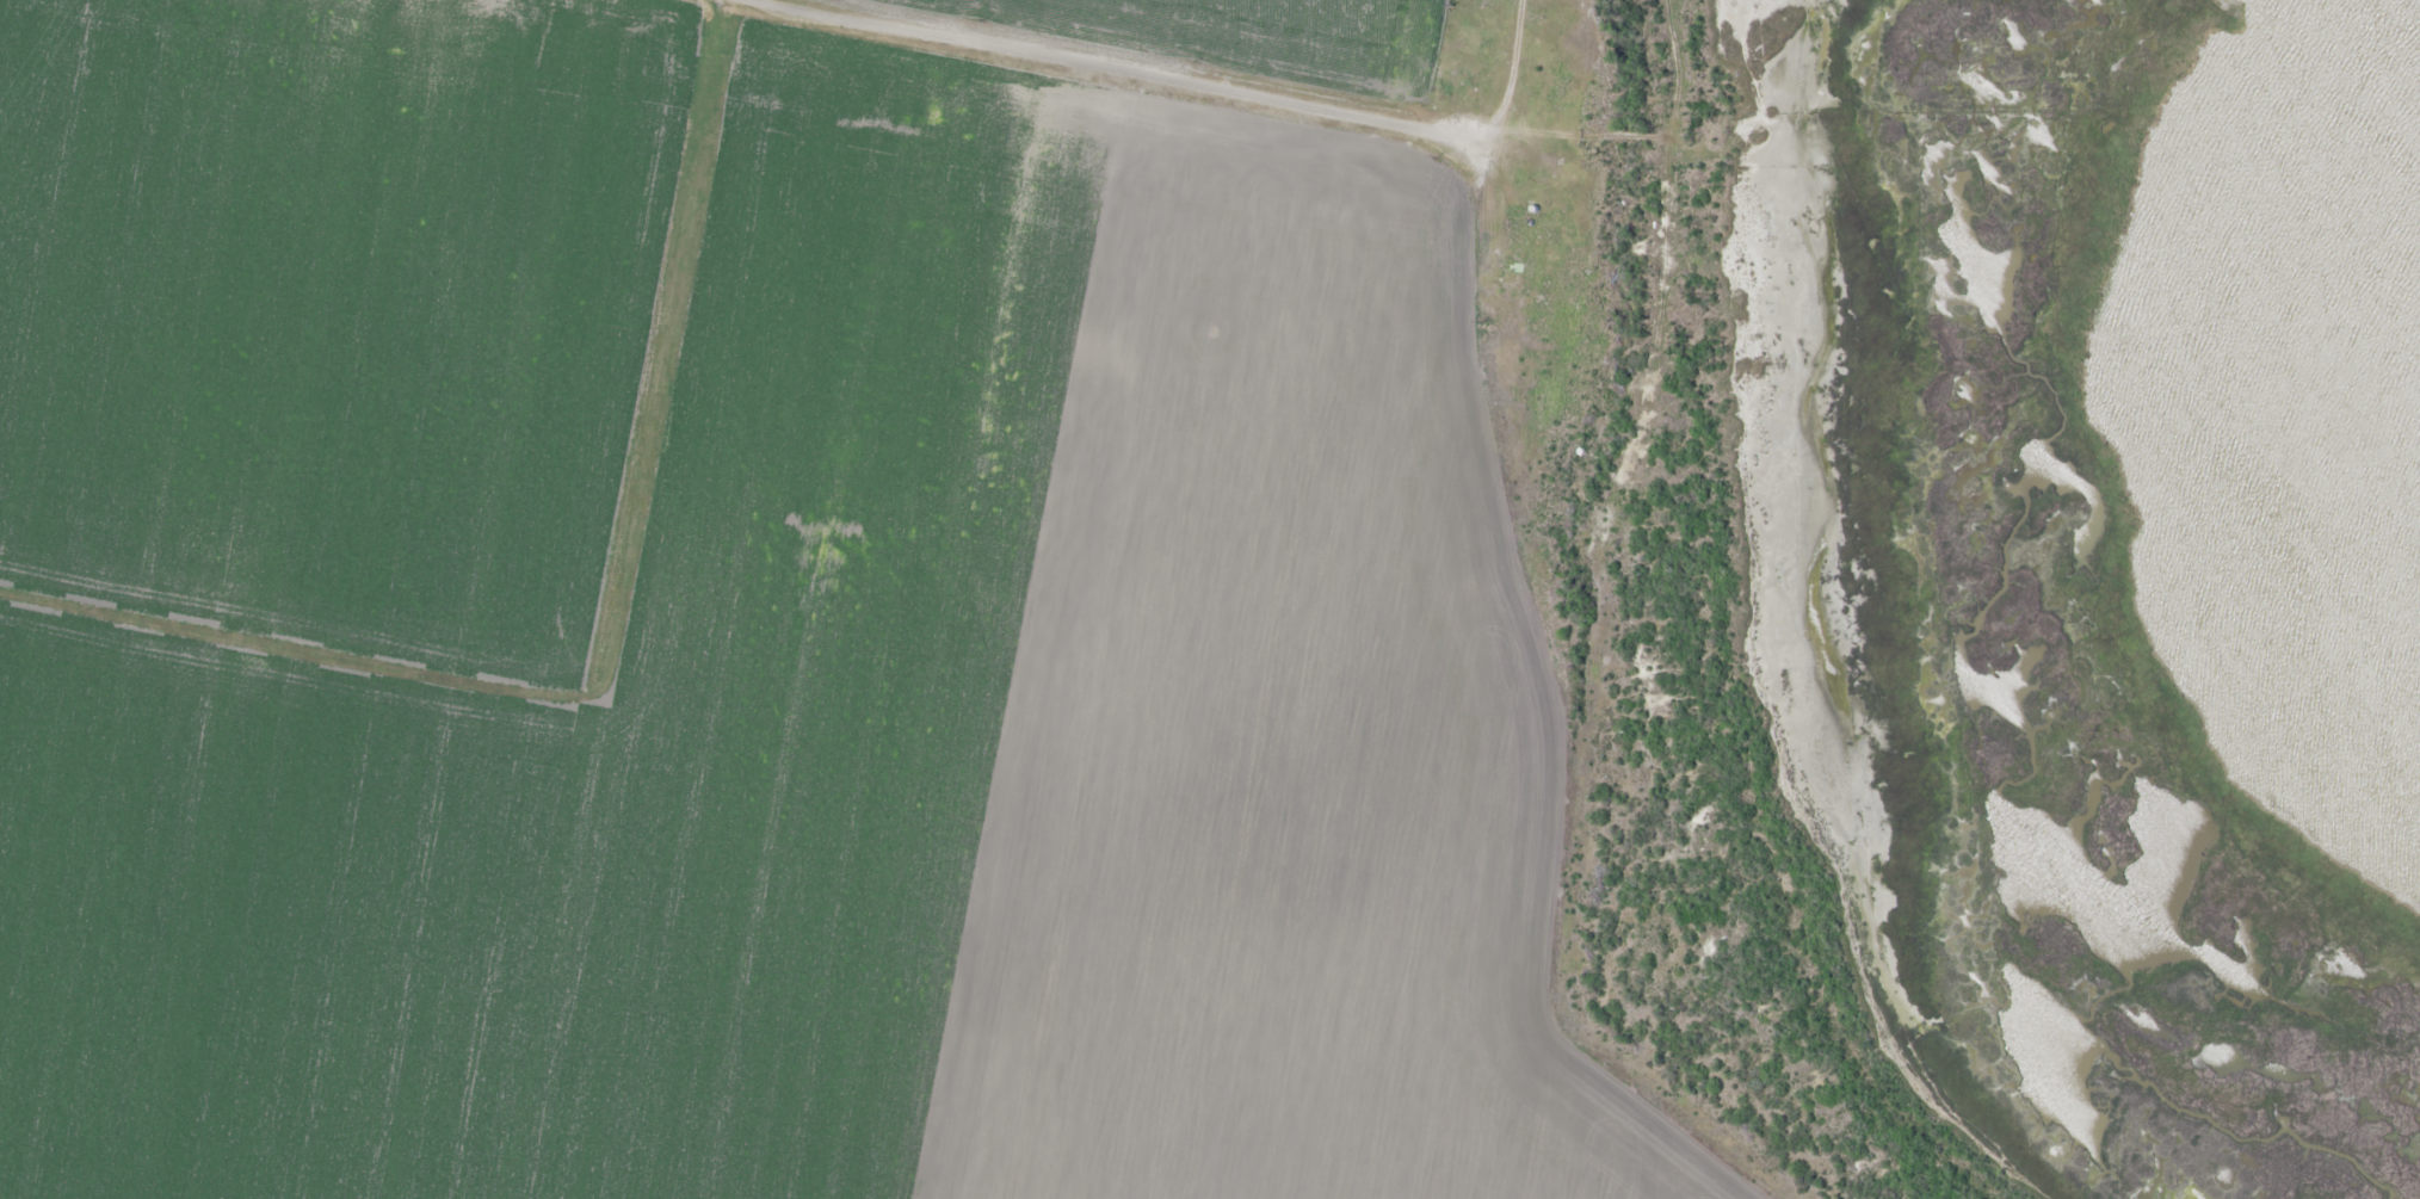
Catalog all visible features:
road: (1063, 76)
road: (1470, 80)
building: (1452, 82)
building: (1538, 111)
building: (1525, 272)
road: (1530, 712)

